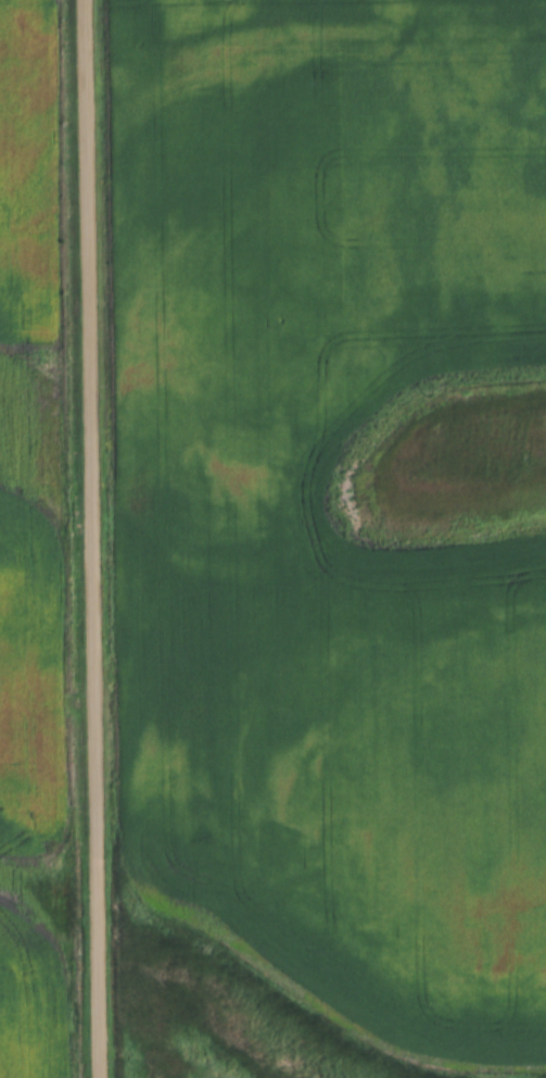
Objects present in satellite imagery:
crop: (319, 536)
road: (93, 539)
crop: (42, 540)

